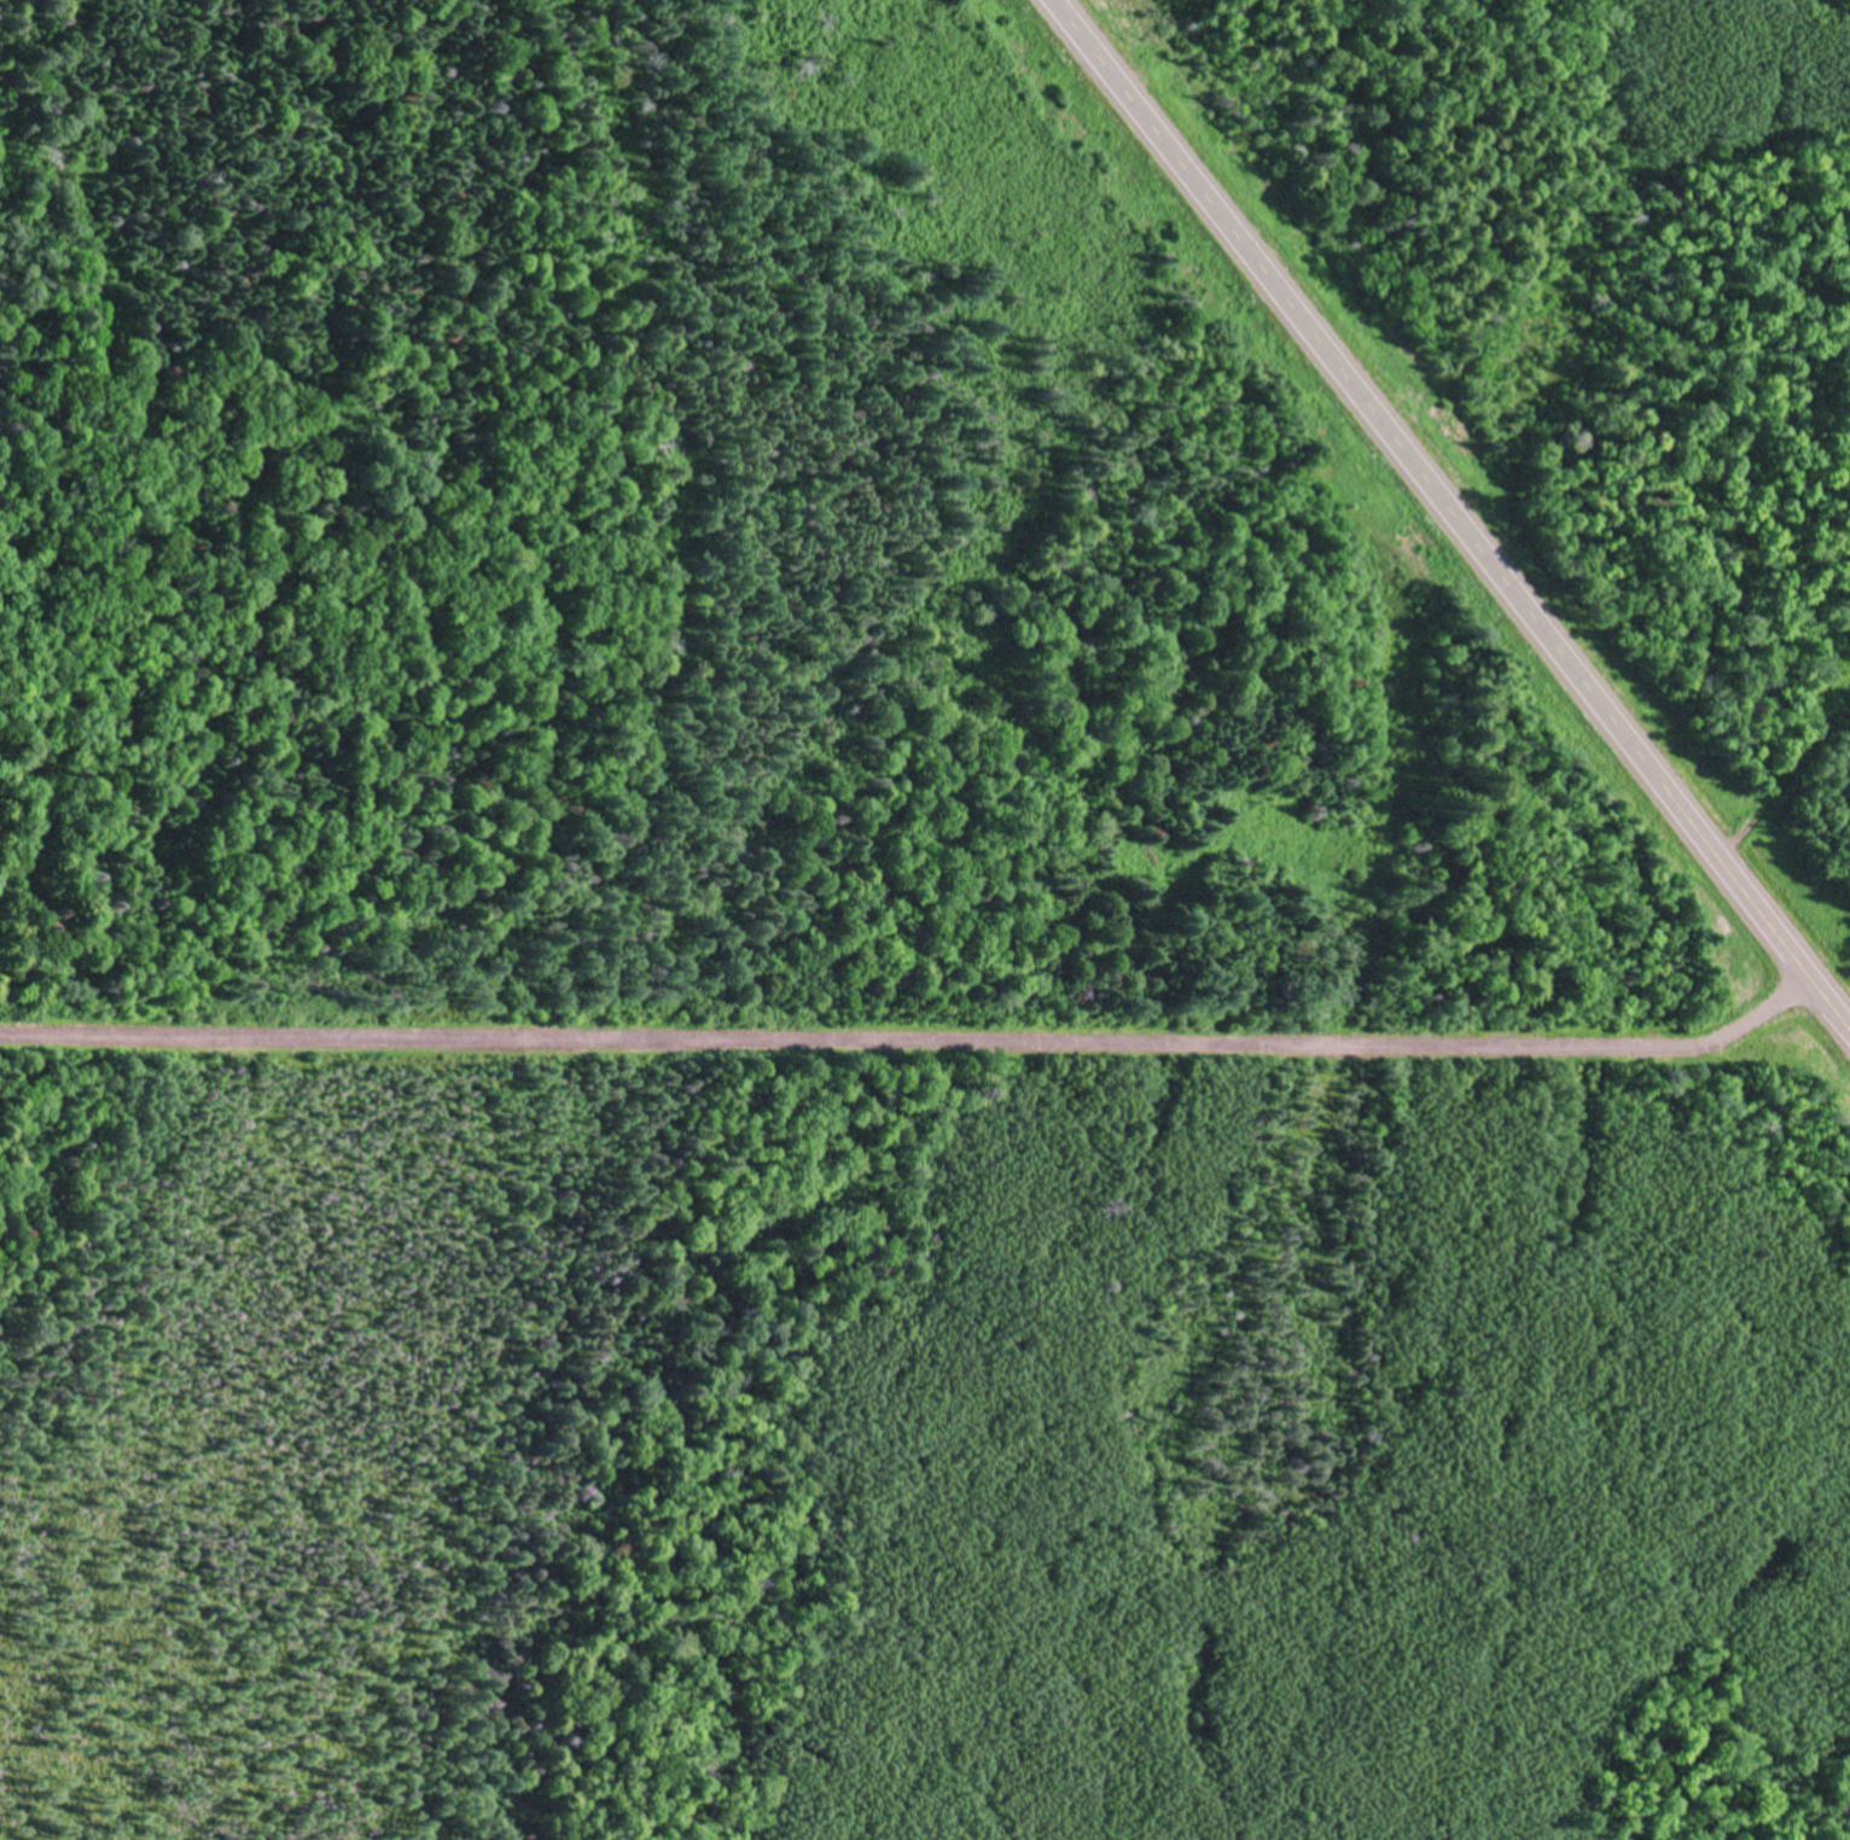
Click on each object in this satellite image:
road: (1453, 512)
road: (915, 1043)

